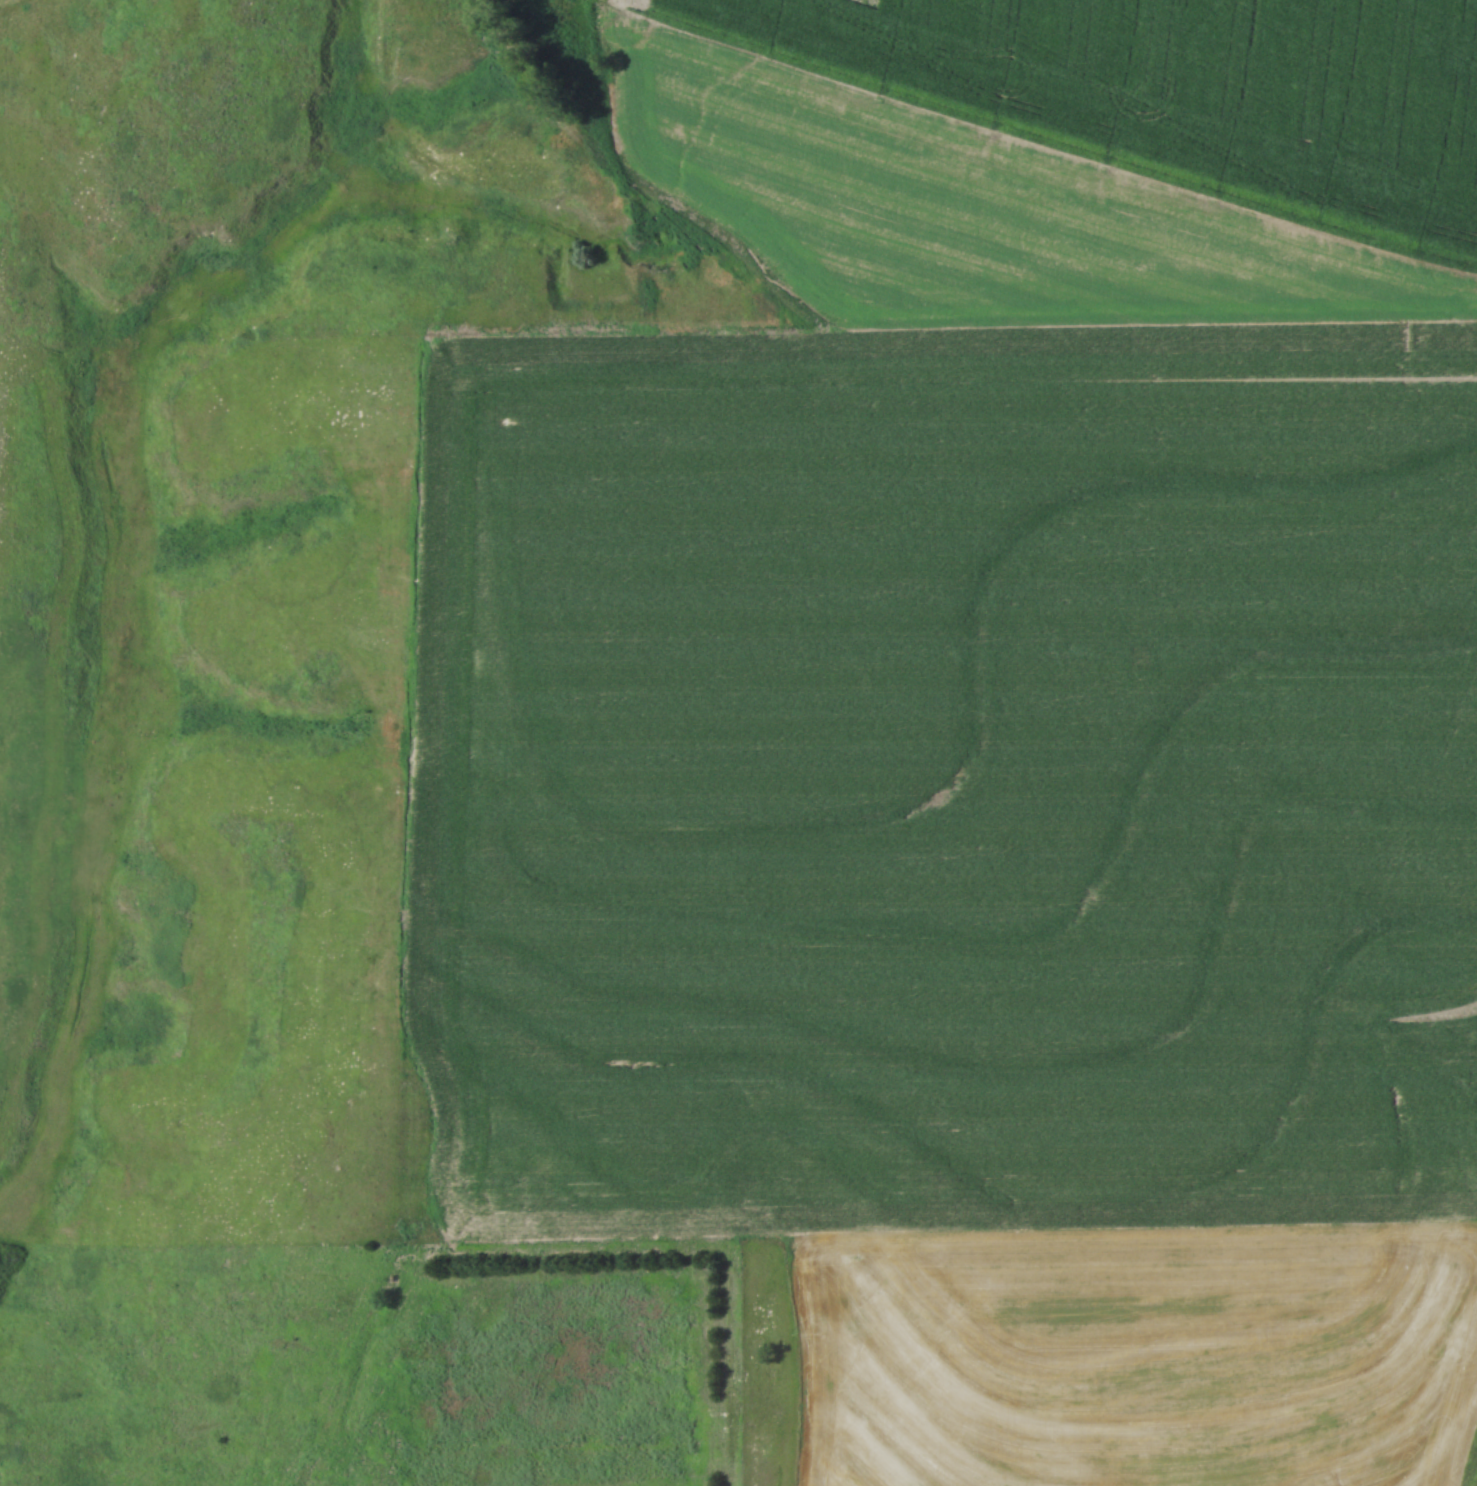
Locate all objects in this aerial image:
crop: (1195, 91)
crop: (968, 203)
crop: (942, 776)
crop: (1141, 1352)
park: (362, 1366)

